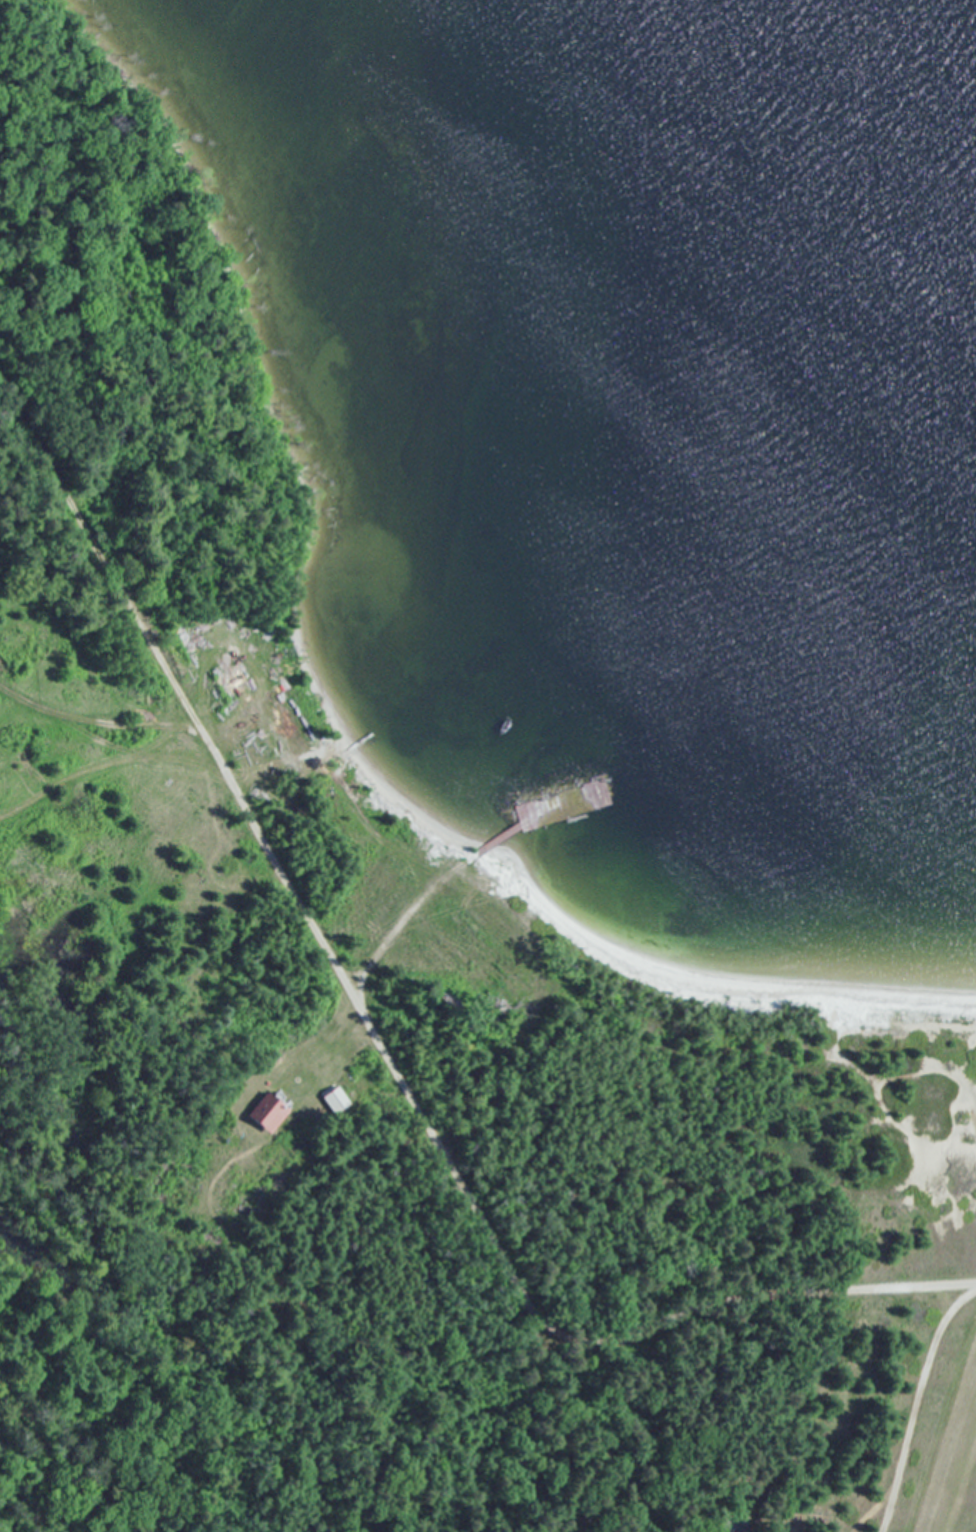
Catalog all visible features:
park: (144, 334)
road: (100, 713)
road: (274, 861)
building: (270, 1111)
road: (754, 1295)
road: (919, 1406)
airport: (901, 1412)
road: (524, 1434)
airport runway: (958, 1476)

